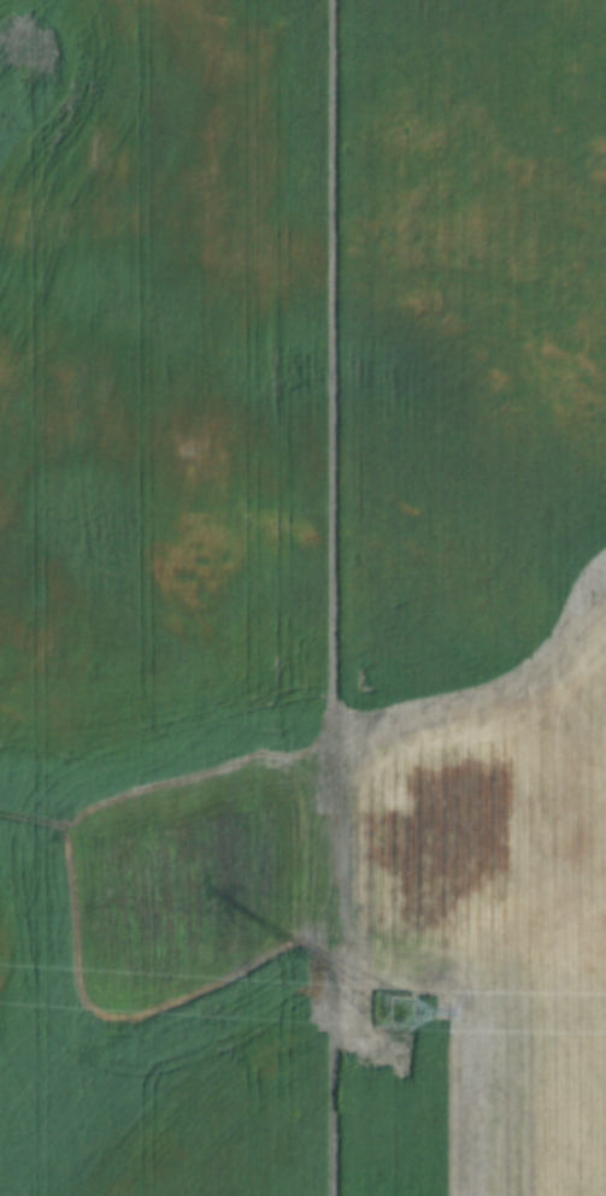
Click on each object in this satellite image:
power tower: (394, 1008)

